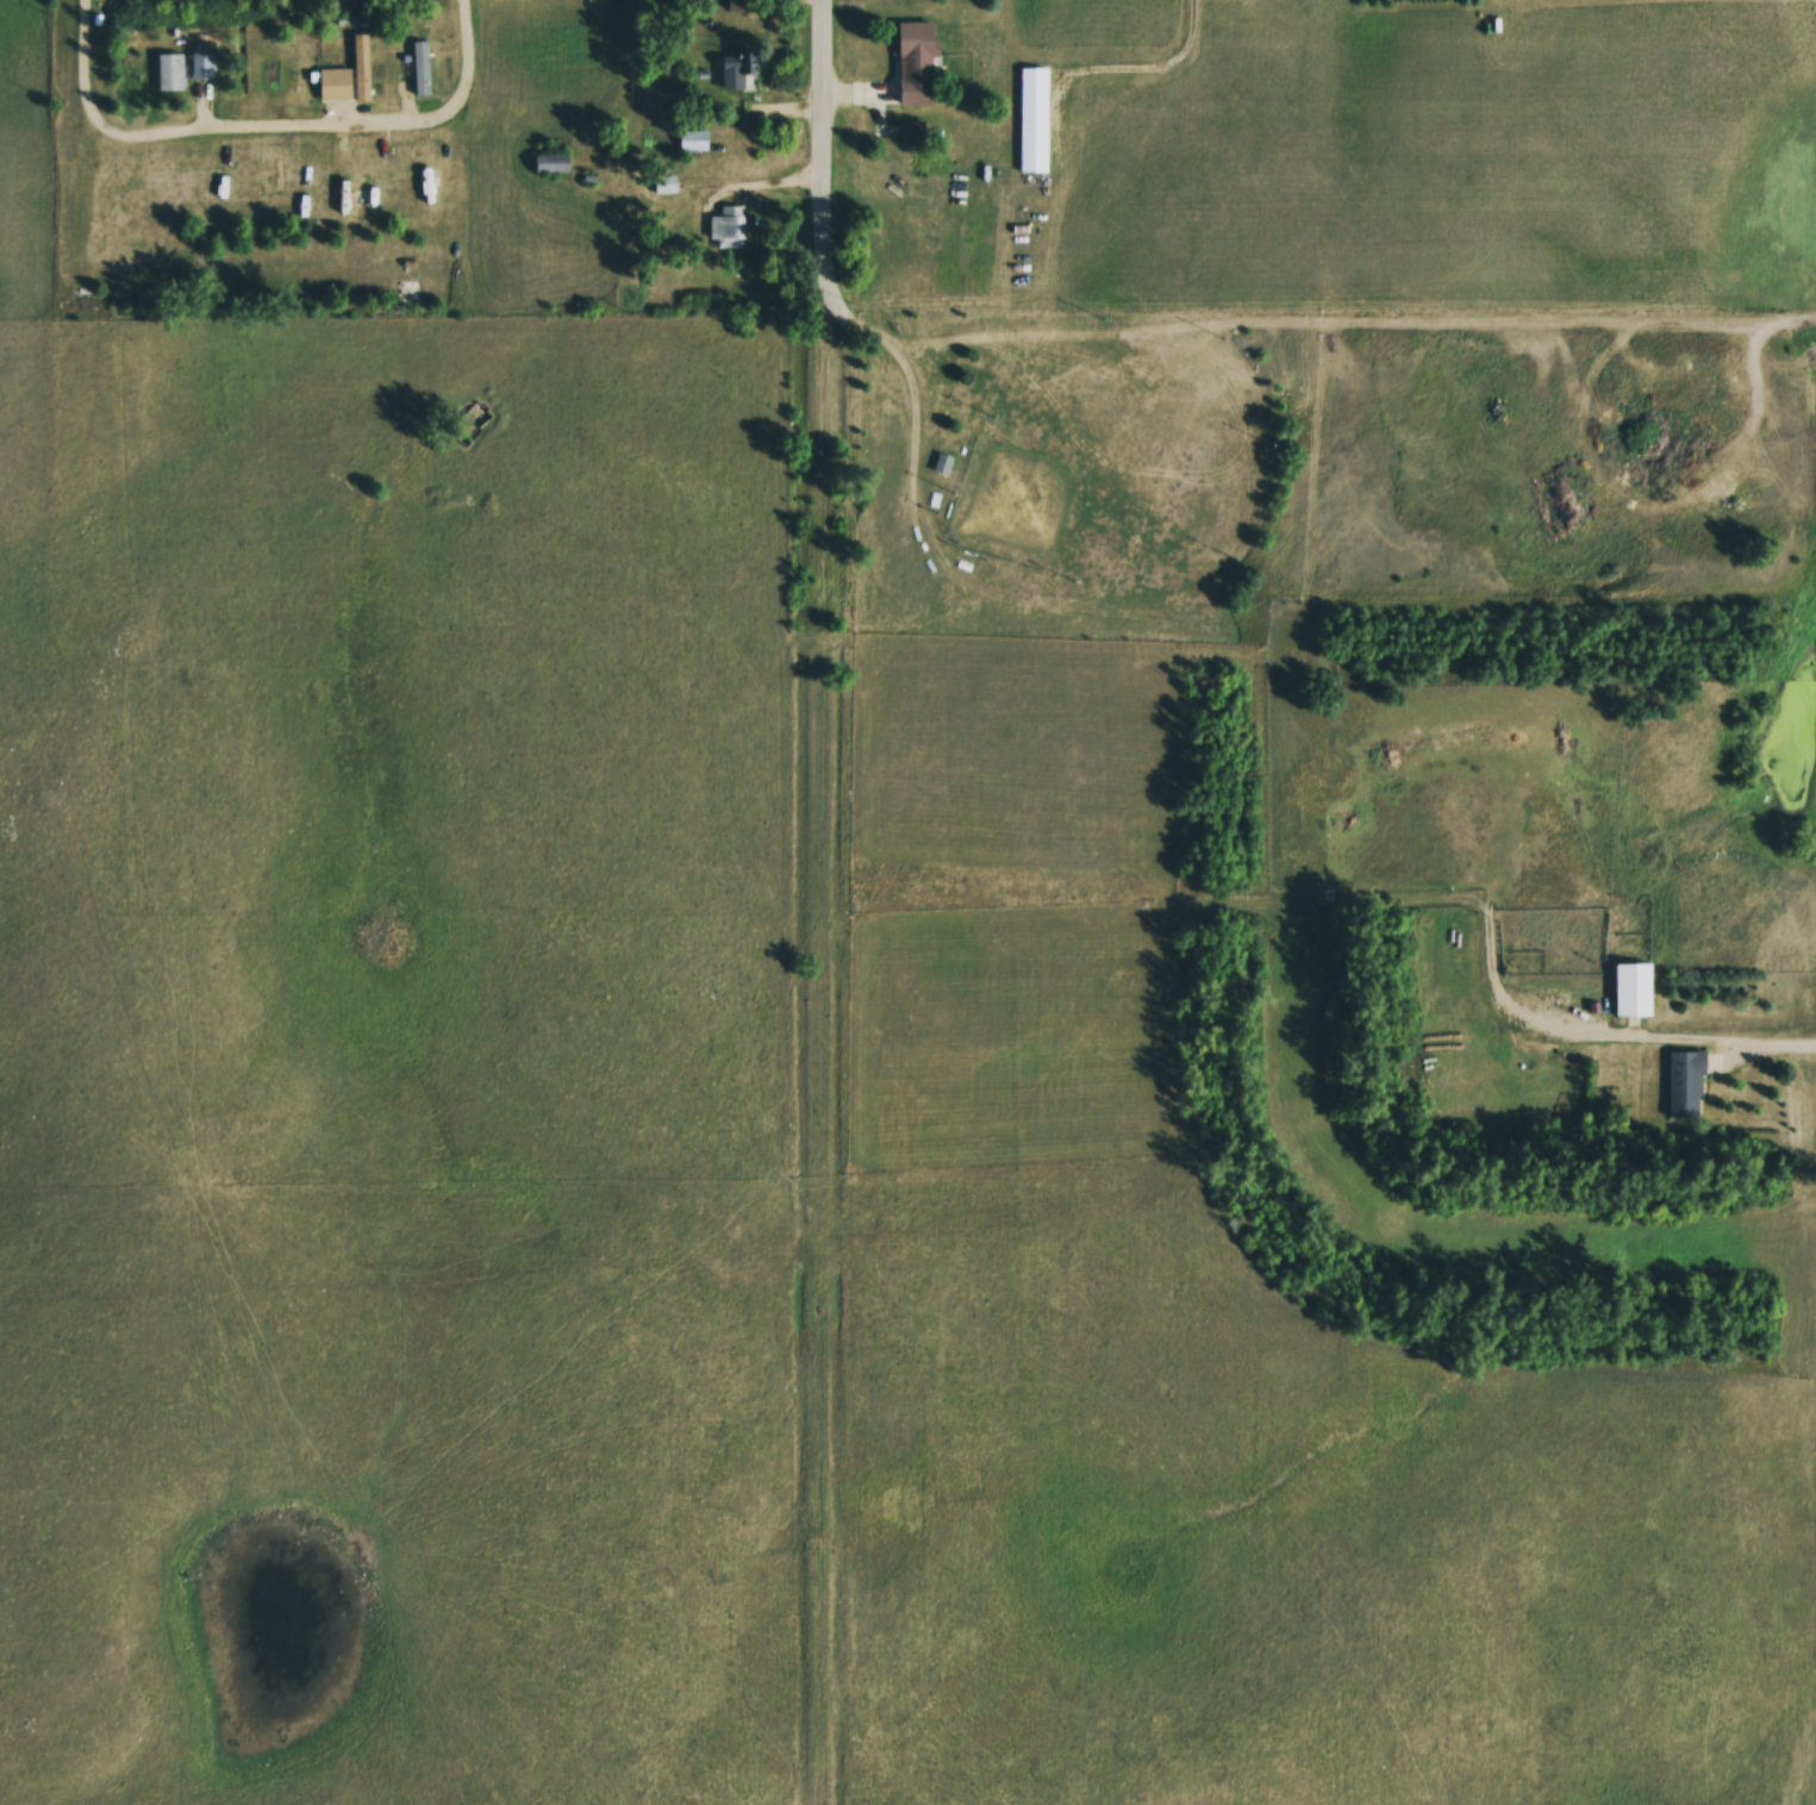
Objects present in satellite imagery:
building: (736, 6)
road: (472, 60)
building: (917, 60)
road: (94, 64)
building: (200, 67)
building: (360, 68)
building: (418, 68)
building: (731, 70)
building: (168, 73)
building: (331, 85)
building: (1035, 117)
road: (285, 129)
building: (909, 132)
building: (689, 140)
building: (547, 163)
building: (662, 185)
building: (725, 229)
road: (834, 307)
building: (941, 466)
park: (1056, 494)
building: (1633, 982)
building: (1683, 1086)

